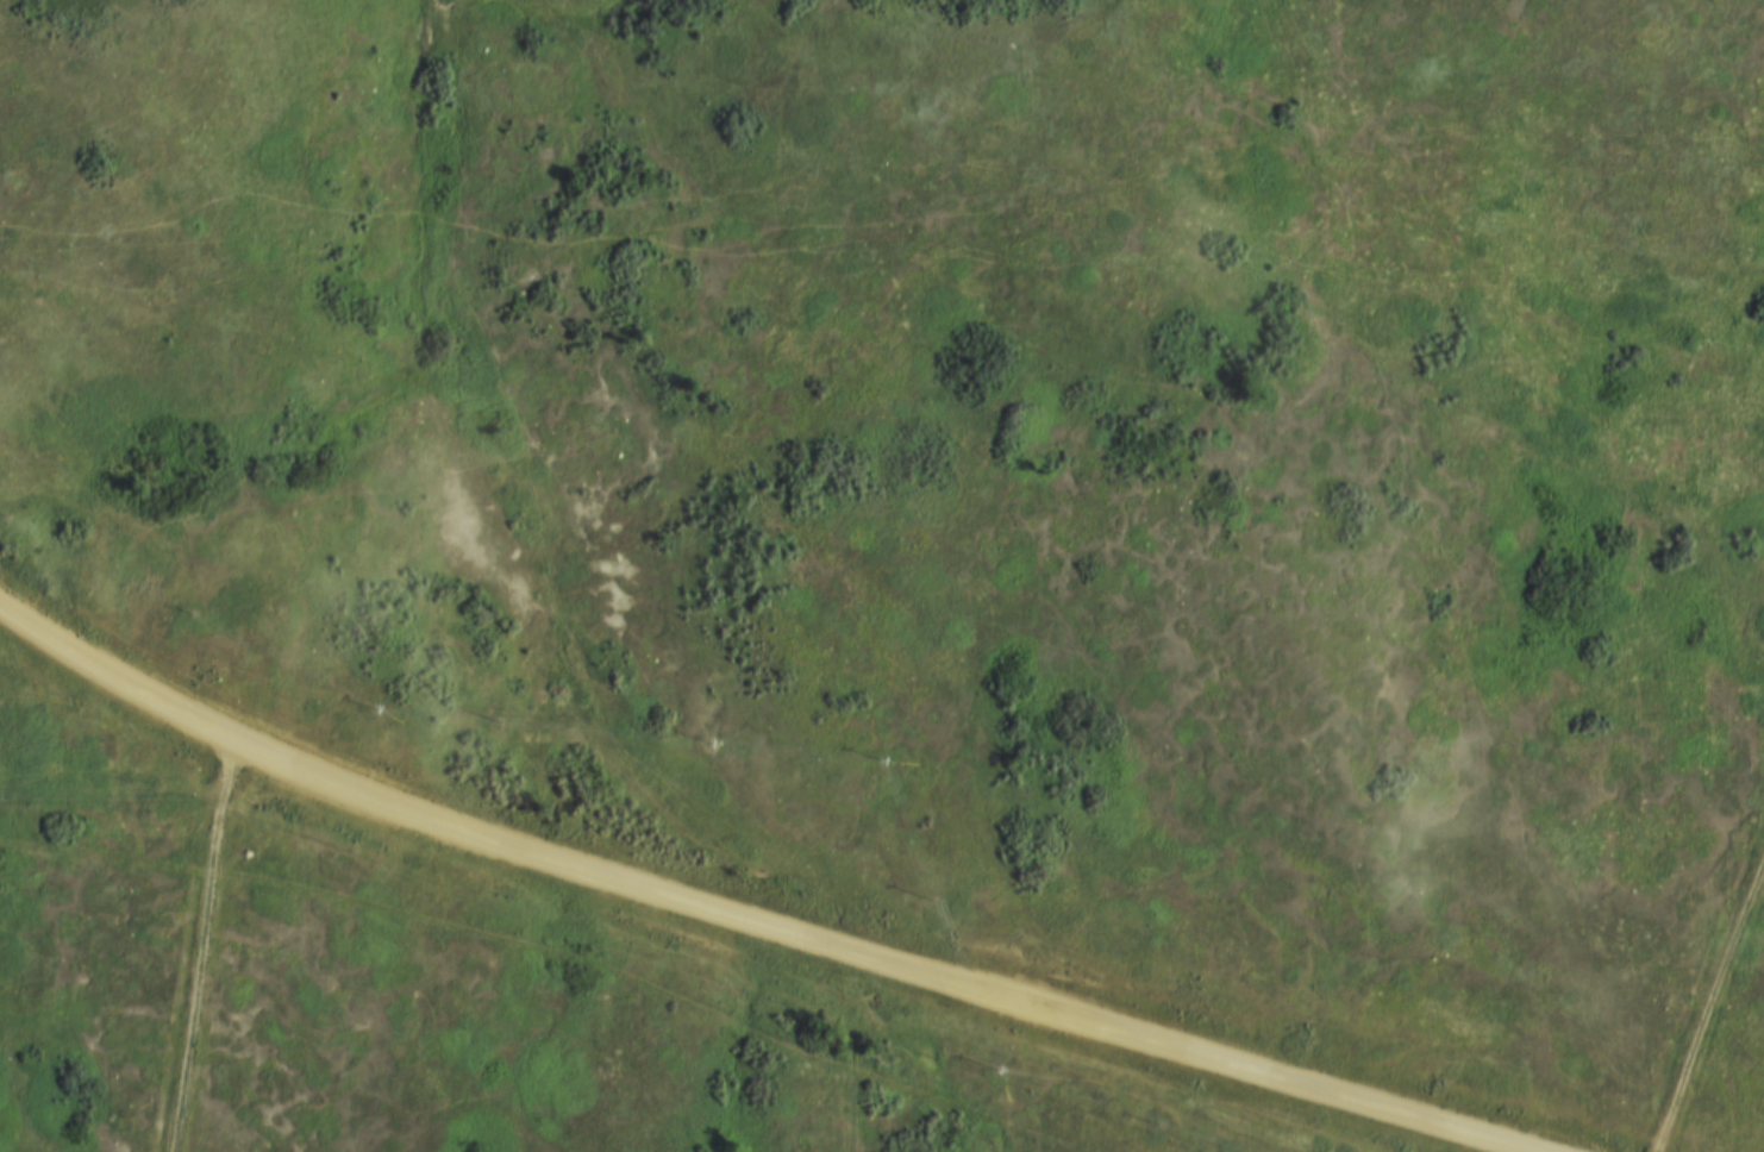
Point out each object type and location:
road: (750, 920)
road: (204, 948)
road: (1712, 1016)

